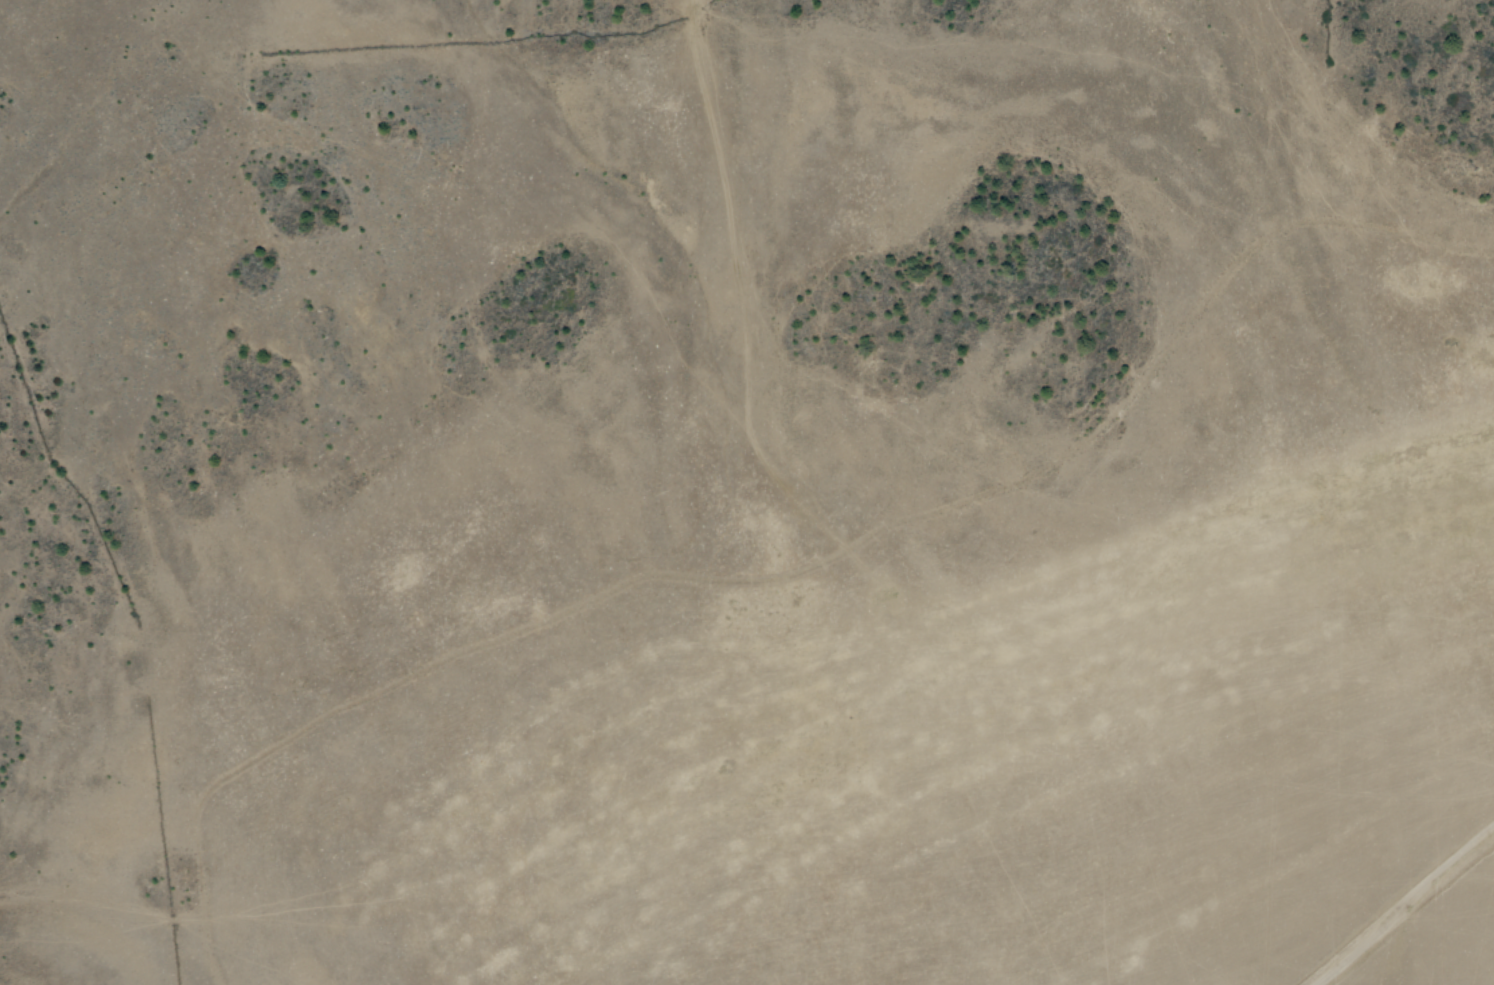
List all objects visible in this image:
road: (1398, 905)

